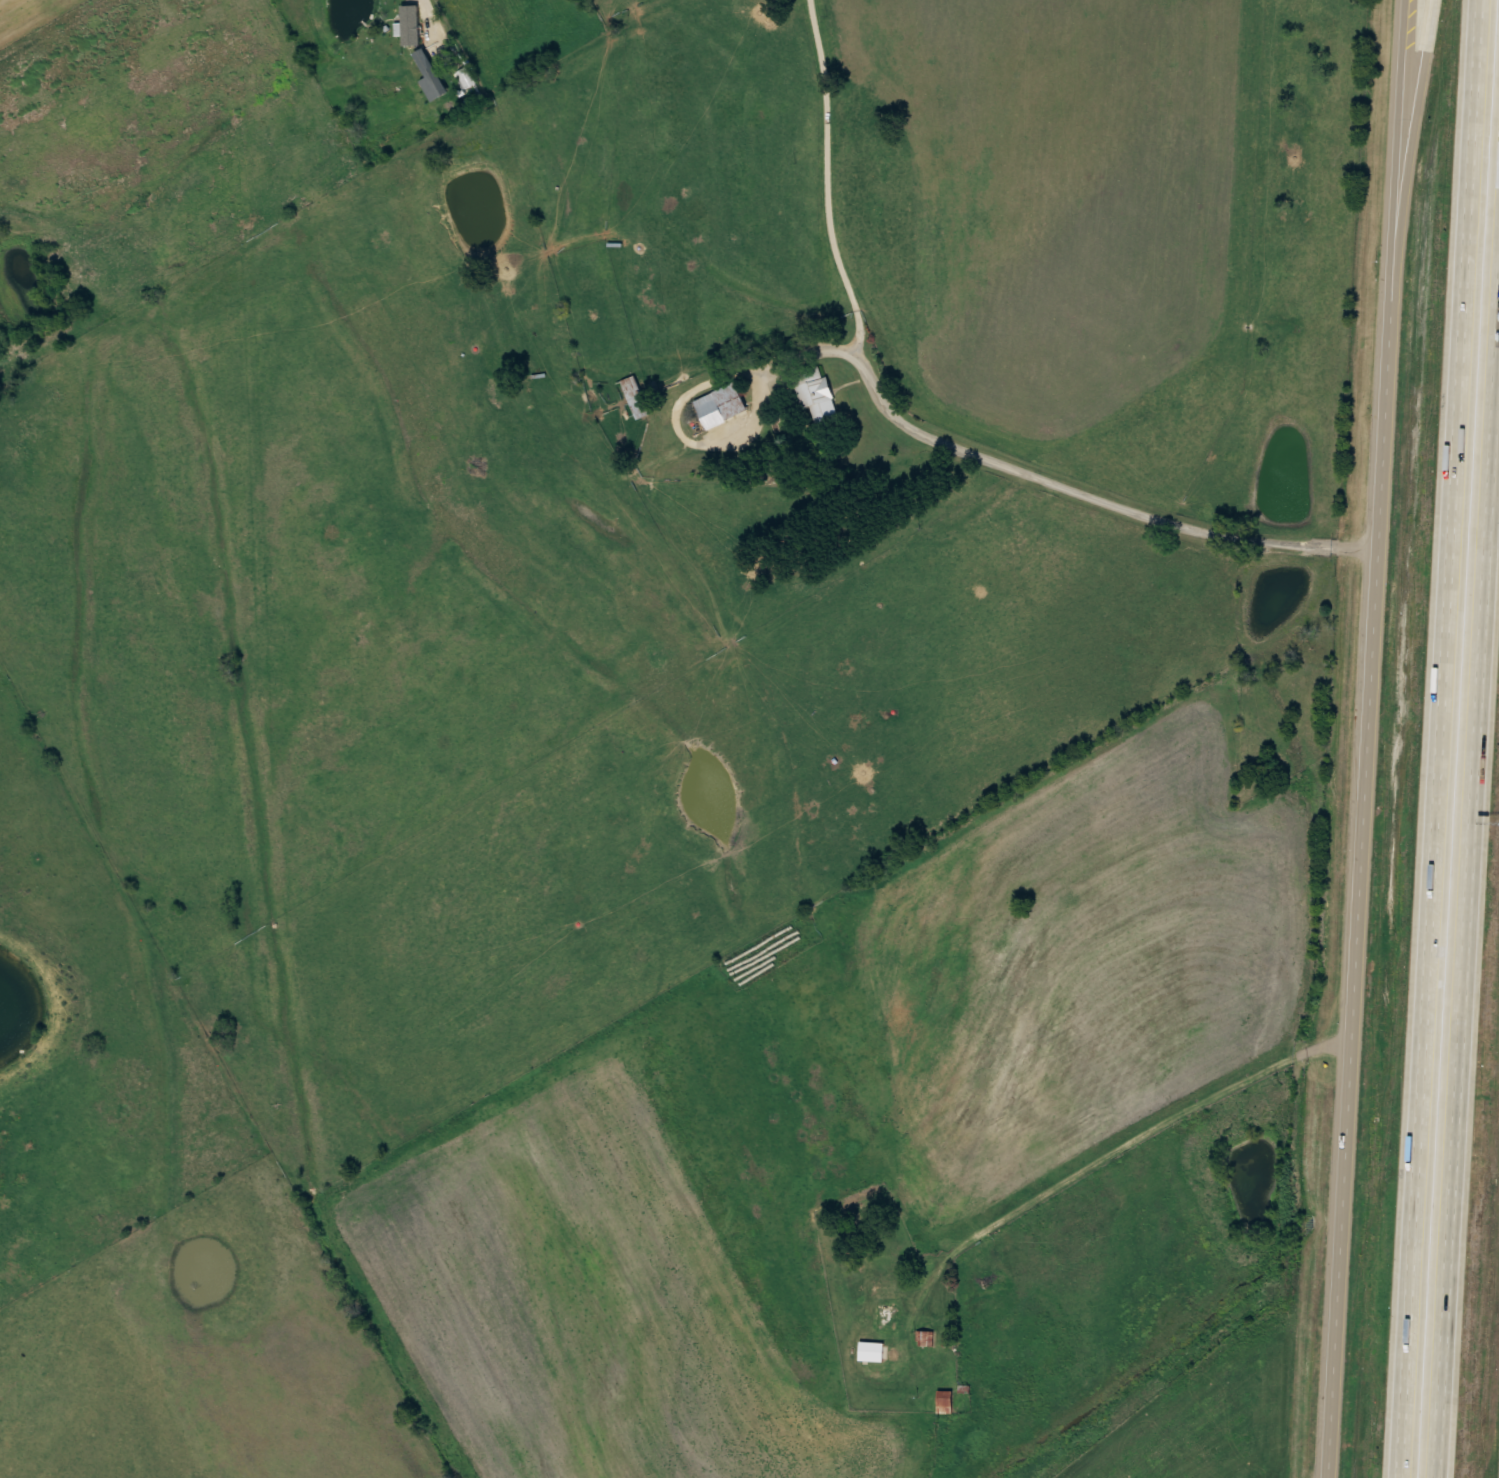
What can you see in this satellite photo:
road: (444, 28)
building: (458, 66)
building: (430, 77)
road: (1402, 224)
building: (635, 396)
building: (815, 396)
building: (721, 405)
building: (1396, 728)
road: (1378, 739)
road: (1445, 739)
road: (1468, 910)
building: (888, 1289)
road: (1058, 1303)
building: (887, 1316)
building: (922, 1338)
building: (943, 1399)

